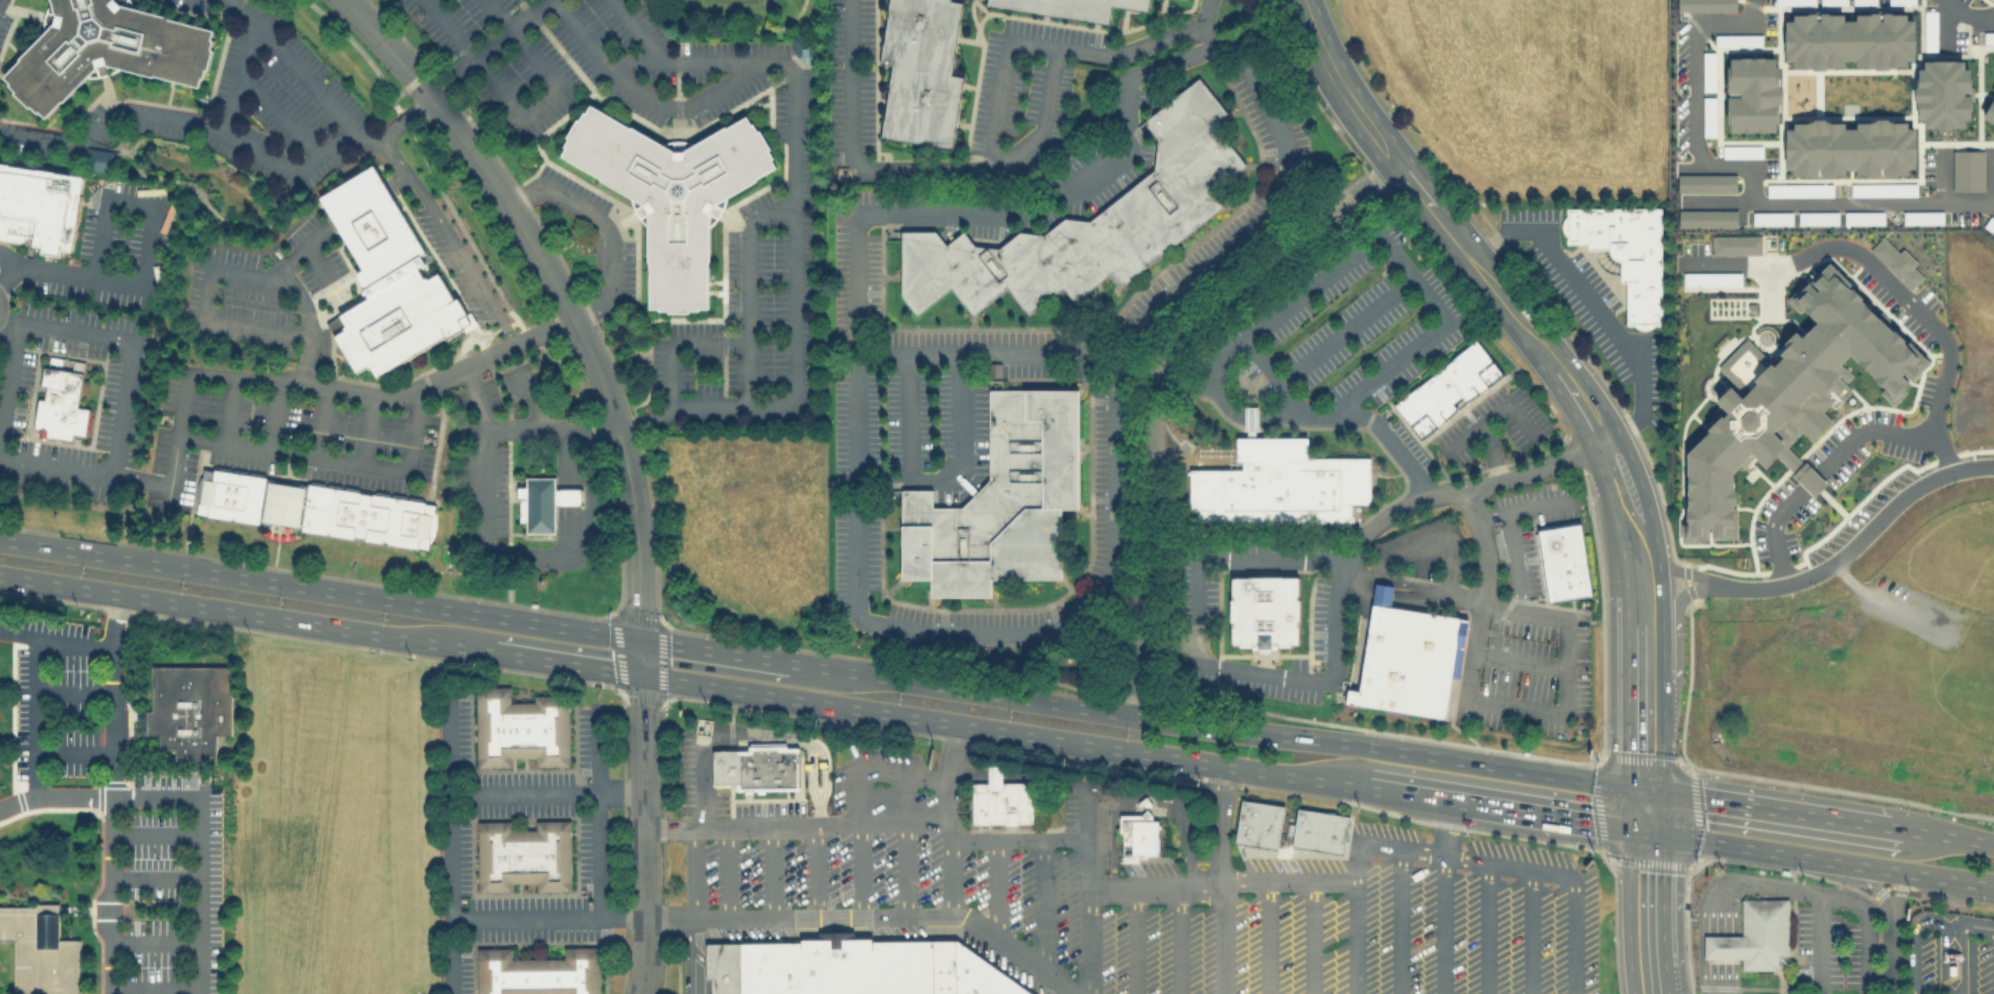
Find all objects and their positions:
building: (1706, 5)
building: (1072, 7)
road: (1968, 14)
park: (738, 19)
road: (637, 30)
road: (731, 32)
road: (677, 39)
building: (1738, 39)
building: (1849, 40)
road: (1141, 44)
road: (384, 47)
road: (483, 48)
building: (804, 48)
building: (106, 49)
road: (683, 60)
building: (920, 71)
road: (239, 75)
road: (303, 75)
road: (1003, 80)
road: (851, 84)
road: (1338, 87)
building: (1752, 93)
building: (1943, 93)
road: (1694, 101)
road: (278, 113)
building: (1990, 113)
road: (526, 115)
road: (182, 119)
building: (1849, 147)
building: (1742, 151)
building: (98, 159)
road: (994, 163)
building: (1968, 170)
road: (1940, 178)
road: (394, 179)
road: (1990, 179)
building: (1706, 182)
park: (209, 188)
building: (1883, 189)
building: (1799, 190)
building: (670, 192)
road: (204, 201)
road: (357, 201)
road: (150, 205)
road: (1838, 205)
building: (38, 206)
road: (1269, 206)
road: (960, 212)
road: (432, 213)
building: (366, 216)
parking lot: (366, 216)
building: (1863, 217)
building: (1922, 217)
building: (1707, 218)
building: (1772, 218)
building: (1817, 218)
building: (1088, 223)
road: (605, 225)
road: (1379, 235)
building: (1736, 245)
building: (1625, 252)
road: (8, 258)
road: (316, 261)
building: (1897, 262)
road: (1736, 264)
road: (54, 271)
road: (8, 274)
road: (211, 274)
building: (1710, 279)
road: (751, 290)
road: (1891, 293)
road: (1503, 300)
road: (1594, 305)
building: (396, 311)
road: (7, 319)
road: (307, 321)
road: (1345, 330)
road: (86, 333)
road: (678, 343)
road: (584, 349)
road: (1036, 351)
road: (908, 352)
road: (1151, 385)
road: (1183, 386)
building: (1447, 389)
building: (1788, 396)
road: (530, 398)
road: (1223, 401)
building: (60, 405)
road: (229, 407)
road: (670, 409)
road: (275, 413)
road: (1493, 413)
road: (907, 415)
building: (1250, 418)
road: (320, 420)
road: (1377, 427)
road: (518, 428)
road: (365, 429)
road: (1885, 431)
road: (1492, 451)
road: (333, 456)
road: (957, 458)
road: (57, 466)
road: (565, 470)
road: (1809, 480)
road: (486, 482)
building: (1278, 485)
road: (1465, 491)
road: (565, 496)
road: (192, 500)
building: (1001, 500)
building: (542, 502)
building: (314, 507)
road: (1522, 509)
road: (1772, 532)
road: (565, 535)
road: (584, 539)
road: (1859, 541)
road: (1428, 542)
road: (1512, 559)
building: (1564, 564)
road: (1673, 573)
road: (1410, 583)
road: (508, 585)
road: (320, 586)
road: (1885, 602)
building: (1263, 611)
road: (245, 612)
road: (1643, 615)
road: (1035, 630)
road: (55, 638)
traffic signals: (640, 638)
road: (1671, 638)
road: (715, 650)
road: (640, 656)
building: (1407, 658)
road: (1520, 661)
road: (565, 662)
road: (1333, 665)
traffic signals: (640, 674)
road: (72, 692)
parking lot: (55, 697)
road: (1503, 702)
building: (189, 708)
road: (32, 716)
road: (1216, 726)
building: (520, 727)
road: (1456, 728)
road: (1001, 730)
road: (800, 738)
road: (449, 740)
road: (71, 753)
building: (757, 766)
road: (810, 769)
road: (968, 775)
road: (993, 776)
road: (1043, 778)
road: (701, 783)
road: (546, 791)
parking lot: (723, 792)
road: (111, 793)
traffic signals: (1641, 793)
road: (859, 794)
road: (1414, 796)
road: (54, 797)
building: (1000, 799)
building: (1146, 802)
road: (1115, 808)
road: (1641, 812)
road: (1187, 813)
road: (1774, 813)
road: (598, 815)
road: (1553, 817)
road: (950, 818)
road: (822, 823)
building: (1258, 823)
road: (1219, 824)
road: (669, 826)
road: (1446, 828)
building: (1318, 829)
traffic signals: (1641, 831)
building: (1139, 832)
road: (154, 834)
road: (645, 834)
road: (1018, 838)
road: (1950, 840)
road: (904, 842)
road: (1376, 844)
road: (1765, 850)
road: (198, 851)
building: (523, 854)
road: (815, 869)
road: (727, 871)
road: (772, 871)
road: (694, 872)
road: (154, 877)
road: (1861, 877)
road: (1942, 877)
road: (1751, 884)
parking lot: (171, 885)
road: (997, 888)
road: (1088, 889)
road: (1899, 889)
road: (450, 893)
parking lot: (1167, 903)
road: (1856, 903)
road: (1040, 905)
road: (1646, 912)
road: (774, 916)
road: (1973, 920)
road: (1398, 921)
road: (1952, 922)
road: (1441, 924)
road: (1487, 928)
road: (1530, 931)
road: (1309, 935)
road: (1355, 935)
building: (1756, 935)
road: (1267, 936)
road: (1220, 939)
road: (1912, 939)
road: (154, 940)
road: (1134, 941)
road: (1178, 941)
road: (1823, 945)
road: (1722, 946)
building: (40, 950)
parking lot: (1825, 950)
road: (1866, 950)
road: (1891, 951)
building: (1951, 955)
road: (685, 956)
road: (1963, 959)
road: (1940, 960)
parking lot: (1925, 961)
building: (846, 966)
parking lot: (1984, 966)
building: (721, 967)
building: (537, 972)
road: (1722, 975)
building: (979, 976)
road: (154, 988)

